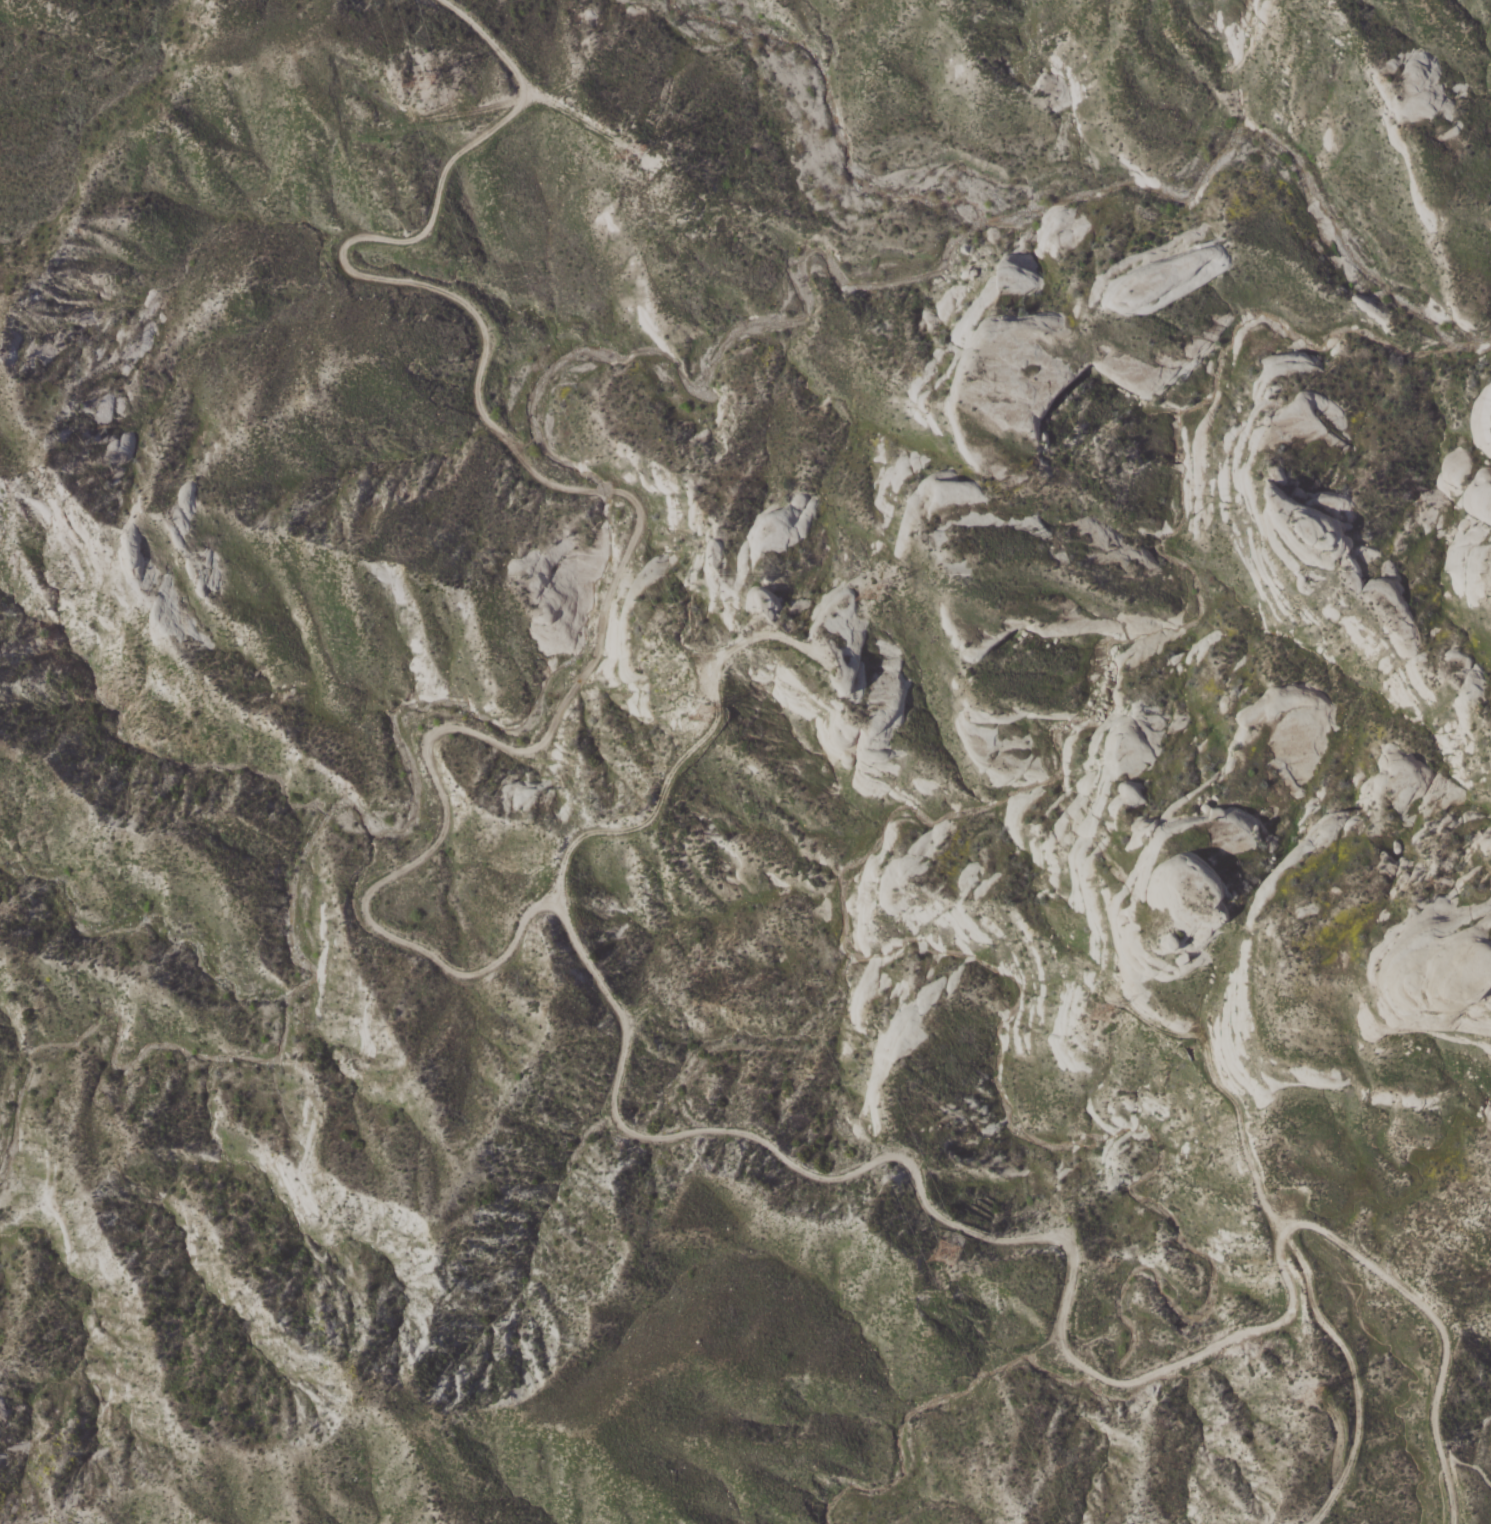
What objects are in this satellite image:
power tower: (423, 91)
road: (527, 100)
power tower: (662, 134)
power tower: (708, 694)
road: (681, 756)
road: (521, 933)
power tower: (1107, 1004)
road: (1288, 1237)
power tower: (936, 1246)
power tower: (1316, 1380)
road: (1470, 1466)
road: (1439, 1491)

